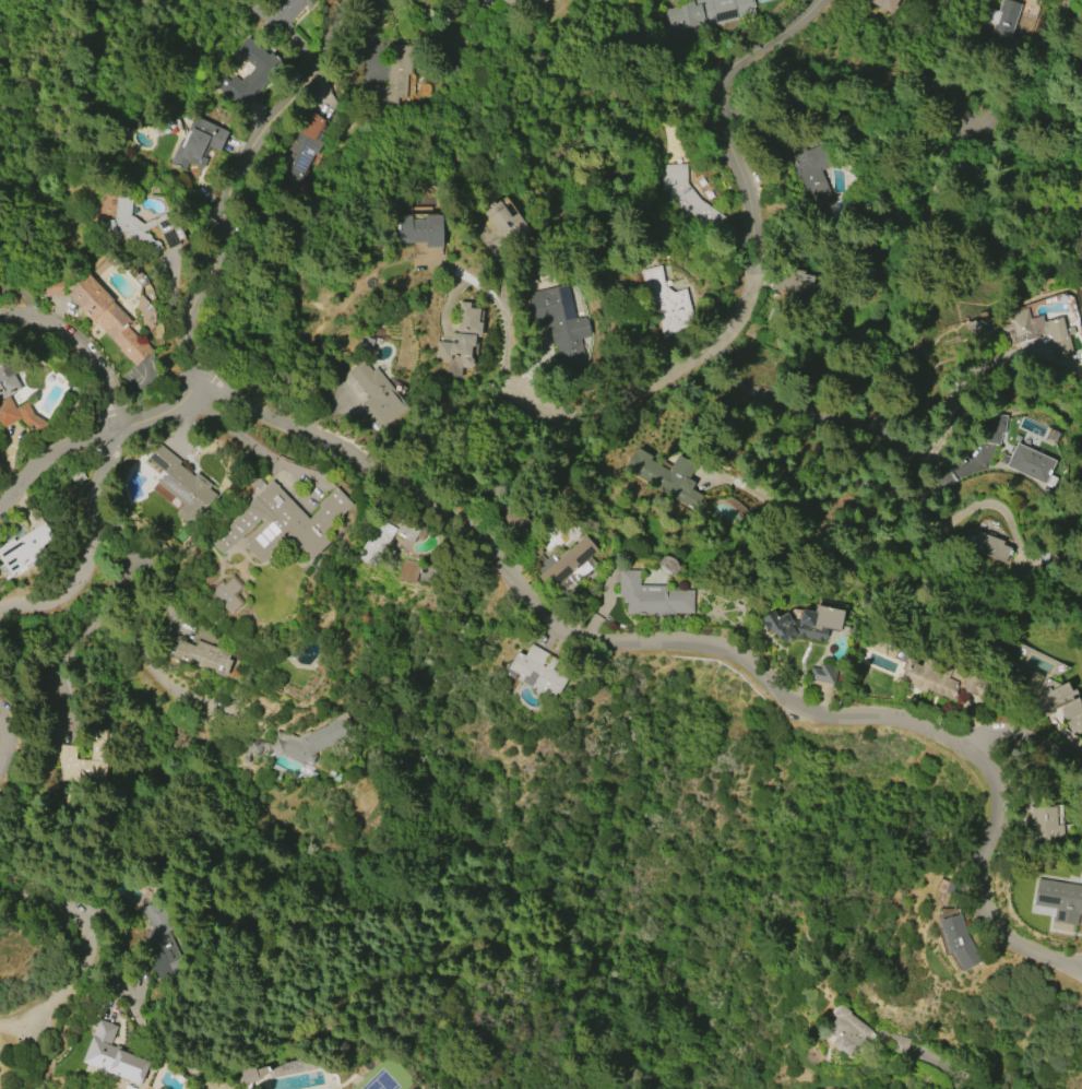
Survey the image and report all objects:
building: (510, 2)
building: (884, 4)
building: (278, 12)
building: (703, 13)
building: (1000, 27)
building: (249, 73)
building: (391, 80)
road: (999, 123)
building: (193, 142)
building: (300, 146)
building: (811, 171)
building: (1081, 196)
building: (687, 197)
building: (1077, 214)
building: (504, 222)
building: (141, 226)
building: (419, 229)
road: (756, 281)
road: (203, 289)
building: (666, 303)
road: (502, 312)
building: (974, 317)
building: (108, 319)
building: (558, 322)
building: (1022, 331)
building: (462, 335)
road: (83, 348)
building: (7, 382)
building: (378, 394)
building: (19, 415)
road: (852, 423)
building: (990, 427)
building: (1030, 463)
building: (666, 475)
building: (183, 486)
building: (282, 523)
building: (384, 535)
building: (988, 546)
building: (24, 548)
road: (83, 548)
building: (566, 567)
building: (407, 570)
building: (226, 594)
building: (651, 597)
building: (804, 624)
road: (698, 648)
building: (202, 653)
building: (534, 673)
building: (823, 674)
building: (938, 679)
building: (1054, 697)
building: (1072, 714)
road: (1, 739)
building: (300, 742)
road: (1030, 753)
building: (83, 764)
building: (1044, 824)
building: (1059, 900)
road: (75, 921)
building: (956, 942)
building: (160, 945)
road: (106, 968)
road: (29, 1015)
building: (845, 1031)
building: (893, 1041)
building: (111, 1055)
road: (942, 1066)
building: (249, 1075)

